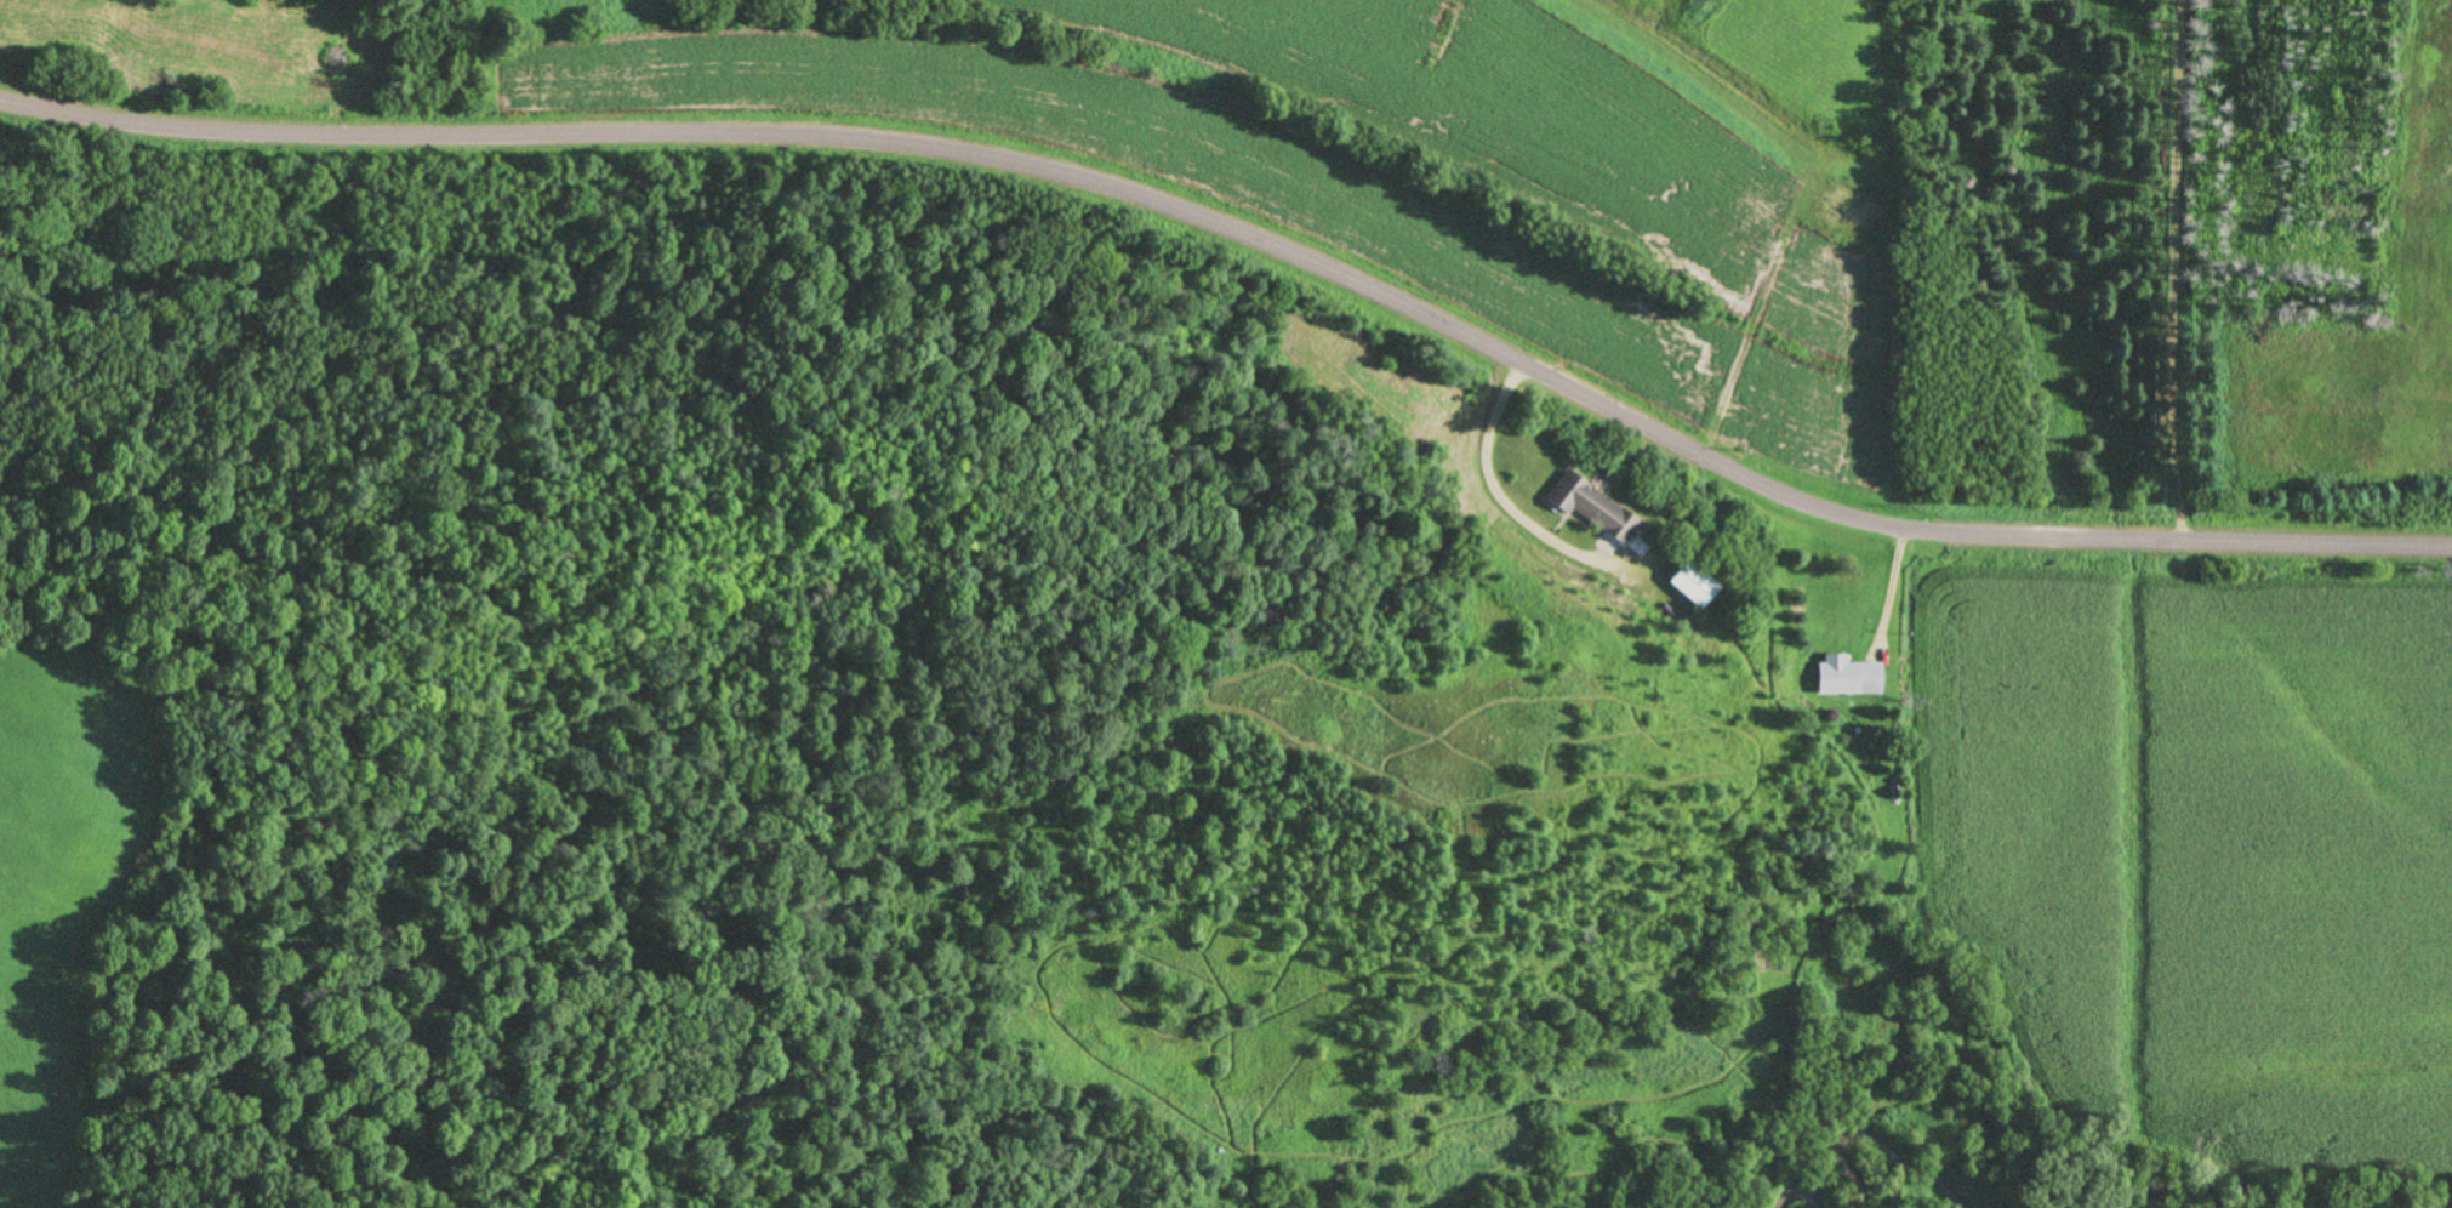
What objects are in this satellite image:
road: (1250, 227)
building: (1592, 508)
road: (1897, 582)
building: (1694, 586)
building: (1848, 677)

